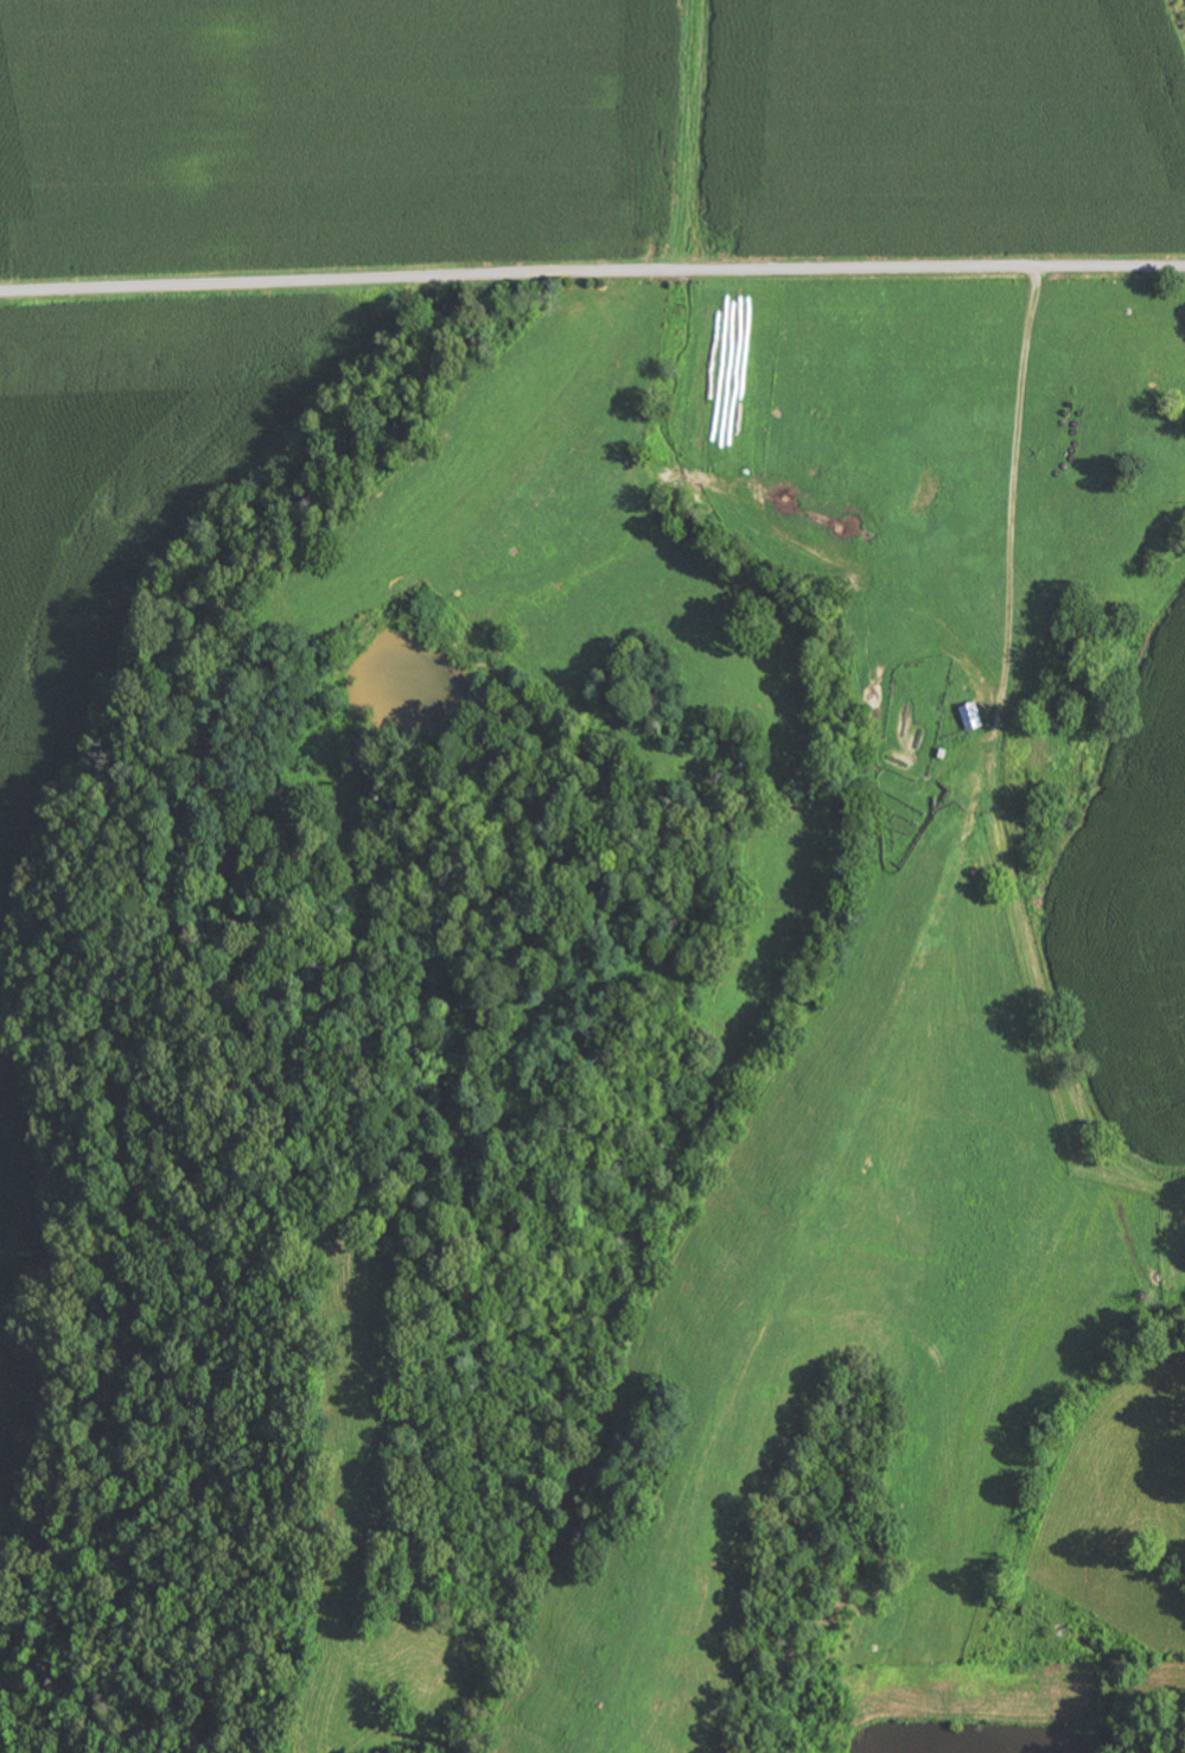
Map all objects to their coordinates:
road: (592, 272)
building: (969, 718)

